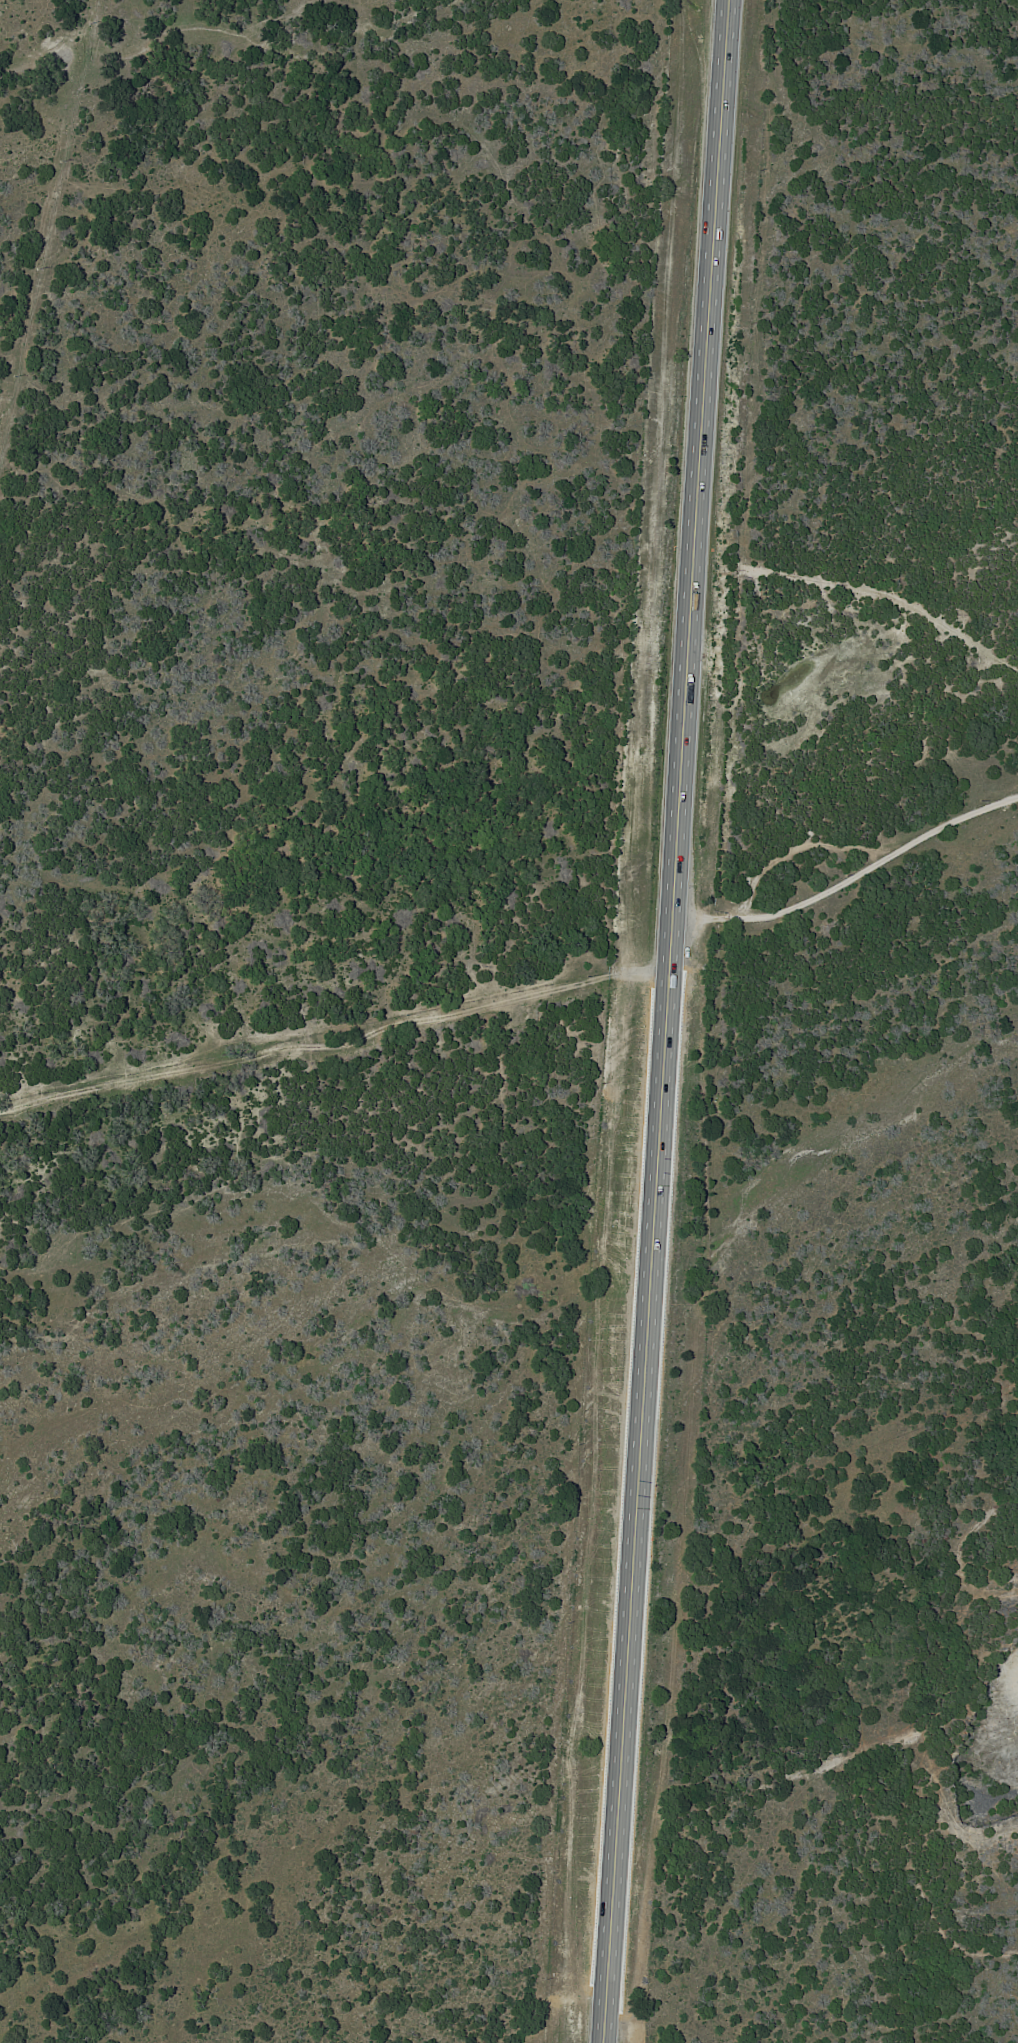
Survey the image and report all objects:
road: (861, 588)
road: (843, 896)
road: (659, 1021)

